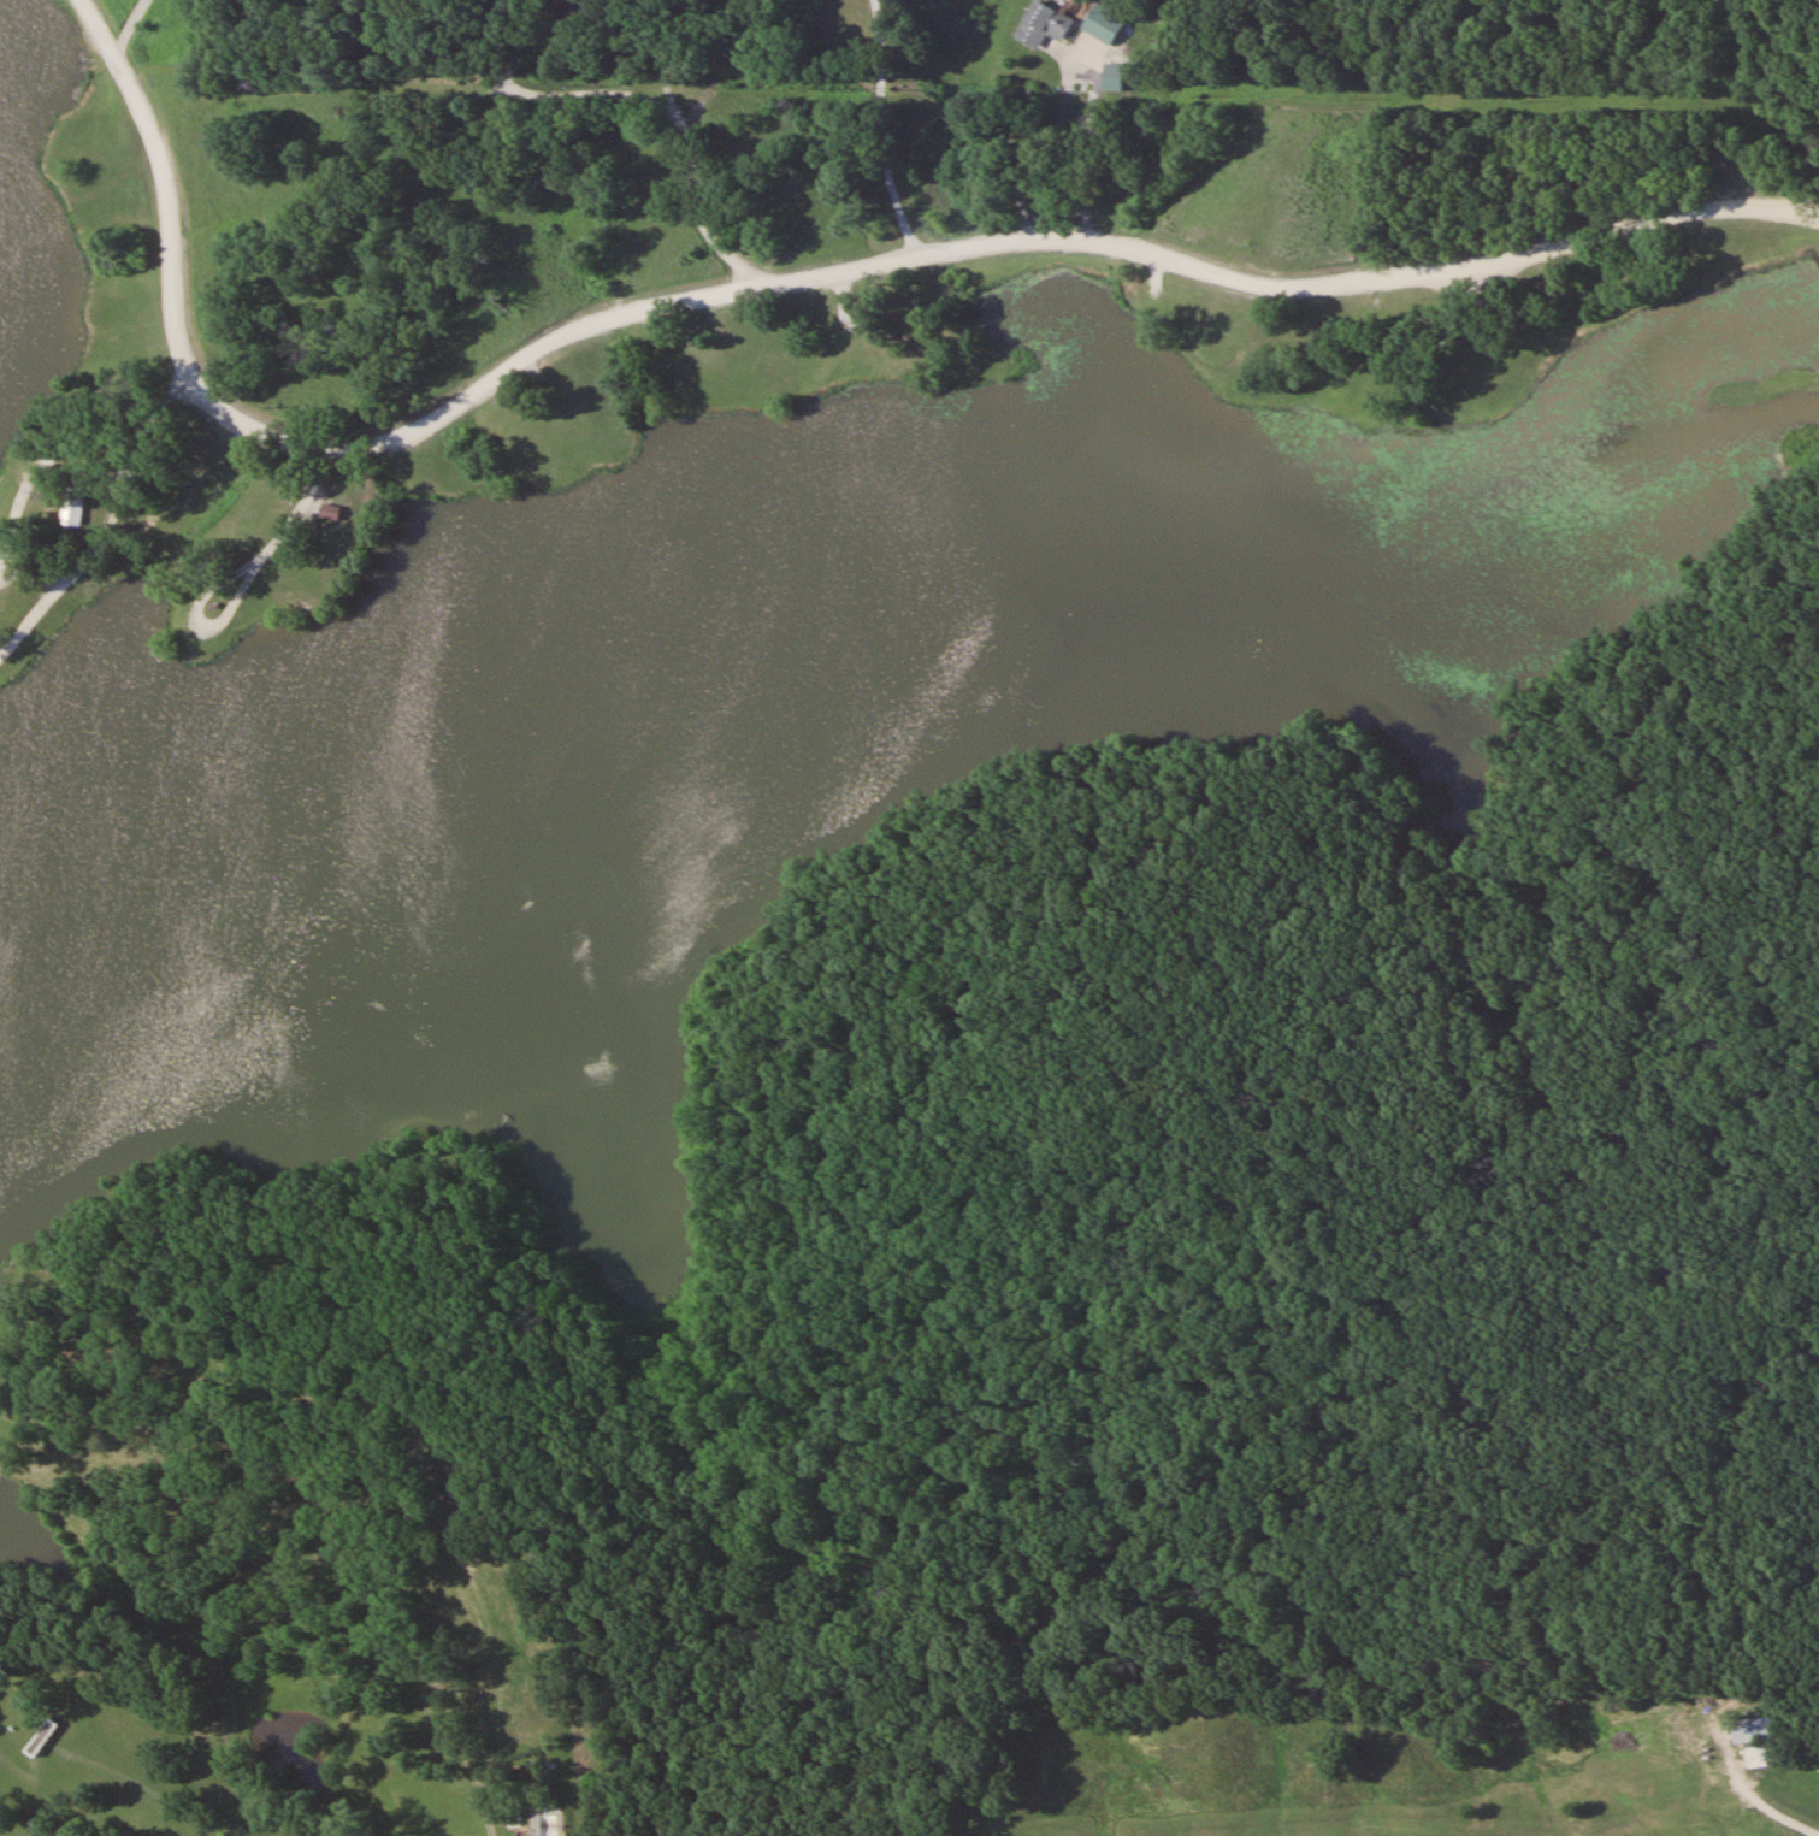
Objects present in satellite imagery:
building: (1044, 24)
building: (1104, 24)
building: (1114, 76)
road: (658, 123)
road: (785, 279)
road: (156, 412)
road: (120, 470)
building: (70, 510)
building: (330, 512)
park: (866, 851)
building: (1755, 1729)
building: (41, 1737)
building: (1764, 1757)
park: (1393, 1764)
building: (553, 1822)
road: (490, 1829)

